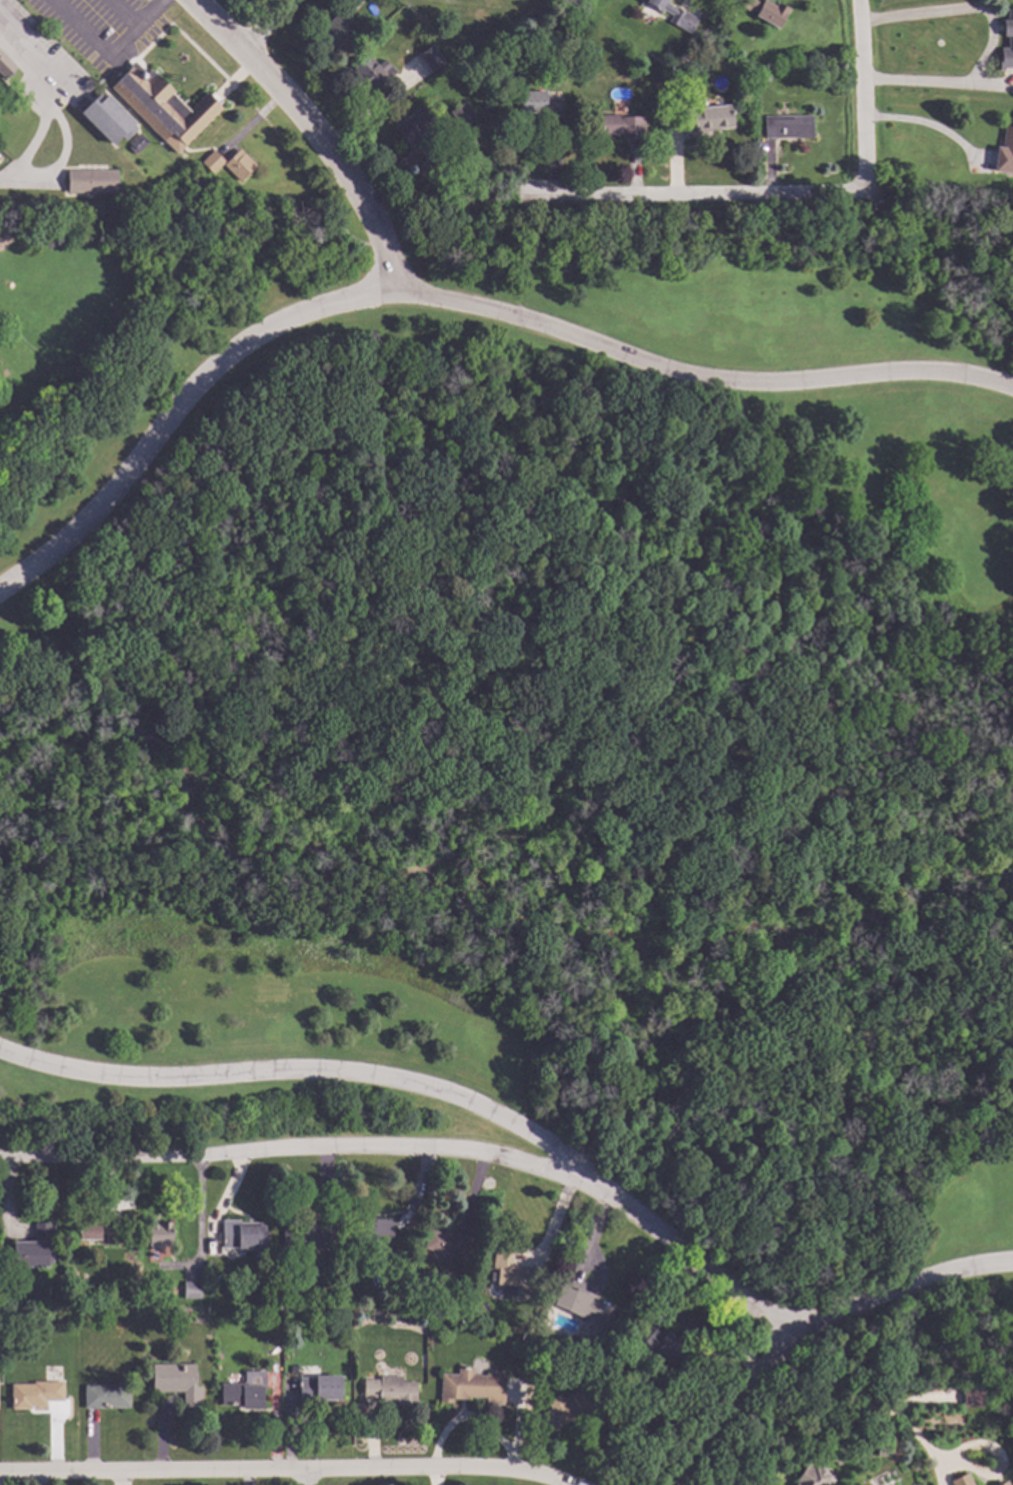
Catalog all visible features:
building: (674, 2)
building: (765, 11)
road: (964, 11)
road: (124, 12)
building: (682, 21)
road: (272, 25)
parking lot: (103, 29)
building: (335, 30)
building: (1007, 43)
road: (108, 53)
building: (430, 59)
building: (5, 66)
building: (371, 72)
building: (670, 74)
road: (931, 86)
road: (864, 96)
road: (44, 101)
building: (538, 104)
building: (163, 107)
building: (461, 113)
building: (108, 119)
building: (705, 121)
building: (414, 126)
building: (618, 126)
building: (788, 127)
road: (932, 128)
road: (317, 131)
building: (137, 143)
building: (1005, 152)
building: (213, 162)
building: (239, 165)
building: (431, 171)
building: (91, 182)
road: (701, 191)
building: (238, 199)
building: (489, 199)
road: (455, 300)
park: (542, 738)
road: (321, 1072)
road: (310, 1149)
building: (373, 1230)
building: (99, 1232)
building: (158, 1234)
building: (242, 1235)
building: (309, 1235)
building: (447, 1243)
building: (34, 1249)
road: (702, 1268)
building: (510, 1275)
road: (898, 1289)
building: (191, 1290)
building: (403, 1297)
building: (584, 1306)
building: (376, 1315)
building: (660, 1345)
building: (176, 1382)
building: (471, 1387)
building: (390, 1390)
building: (244, 1391)
building: (317, 1391)
building: (35, 1394)
building: (106, 1396)
building: (972, 1398)
building: (573, 1406)
road: (731, 1408)
road: (916, 1440)
building: (869, 1464)
road: (290, 1470)
building: (810, 1476)
road: (303, 1477)
building: (962, 1480)
building: (1002, 1483)
building: (1011, 1484)

